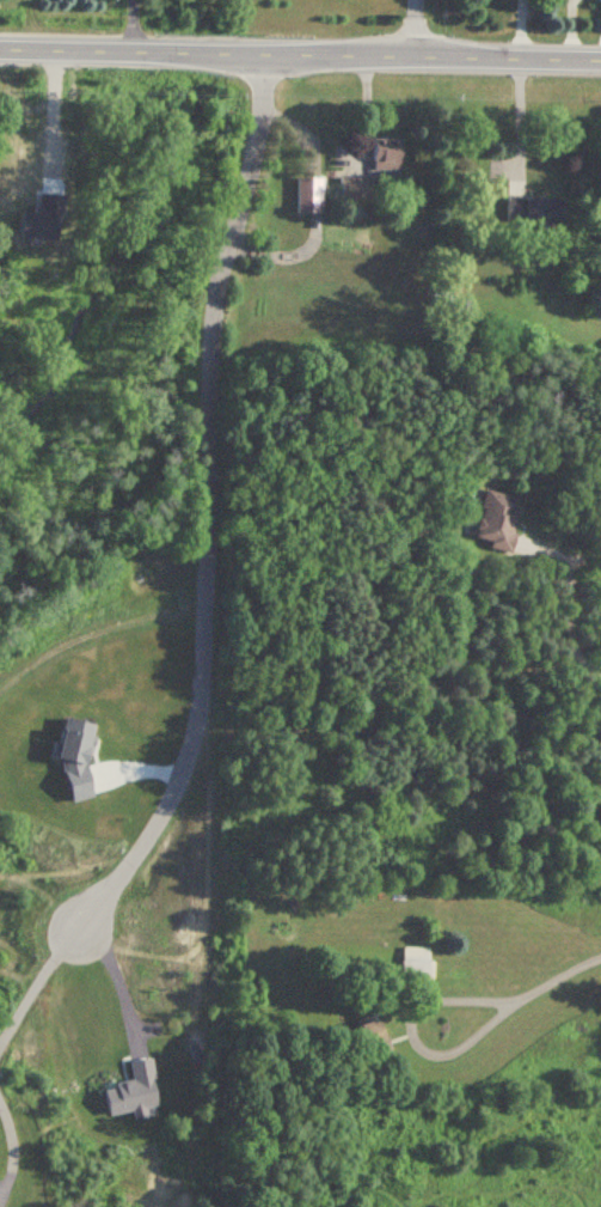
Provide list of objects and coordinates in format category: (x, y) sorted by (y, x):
road: (130, 26)
road: (412, 29)
road: (300, 56)
road: (50, 116)
road: (515, 124)
building: (381, 154)
building: (351, 189)
building: (306, 195)
building: (532, 209)
road: (200, 510)
building: (493, 520)
building: (417, 596)
road: (566, 610)
building: (416, 967)
road: (556, 980)
road: (119, 982)
road: (36, 983)
building: (364, 1030)
road: (413, 1031)
road: (11, 1150)

